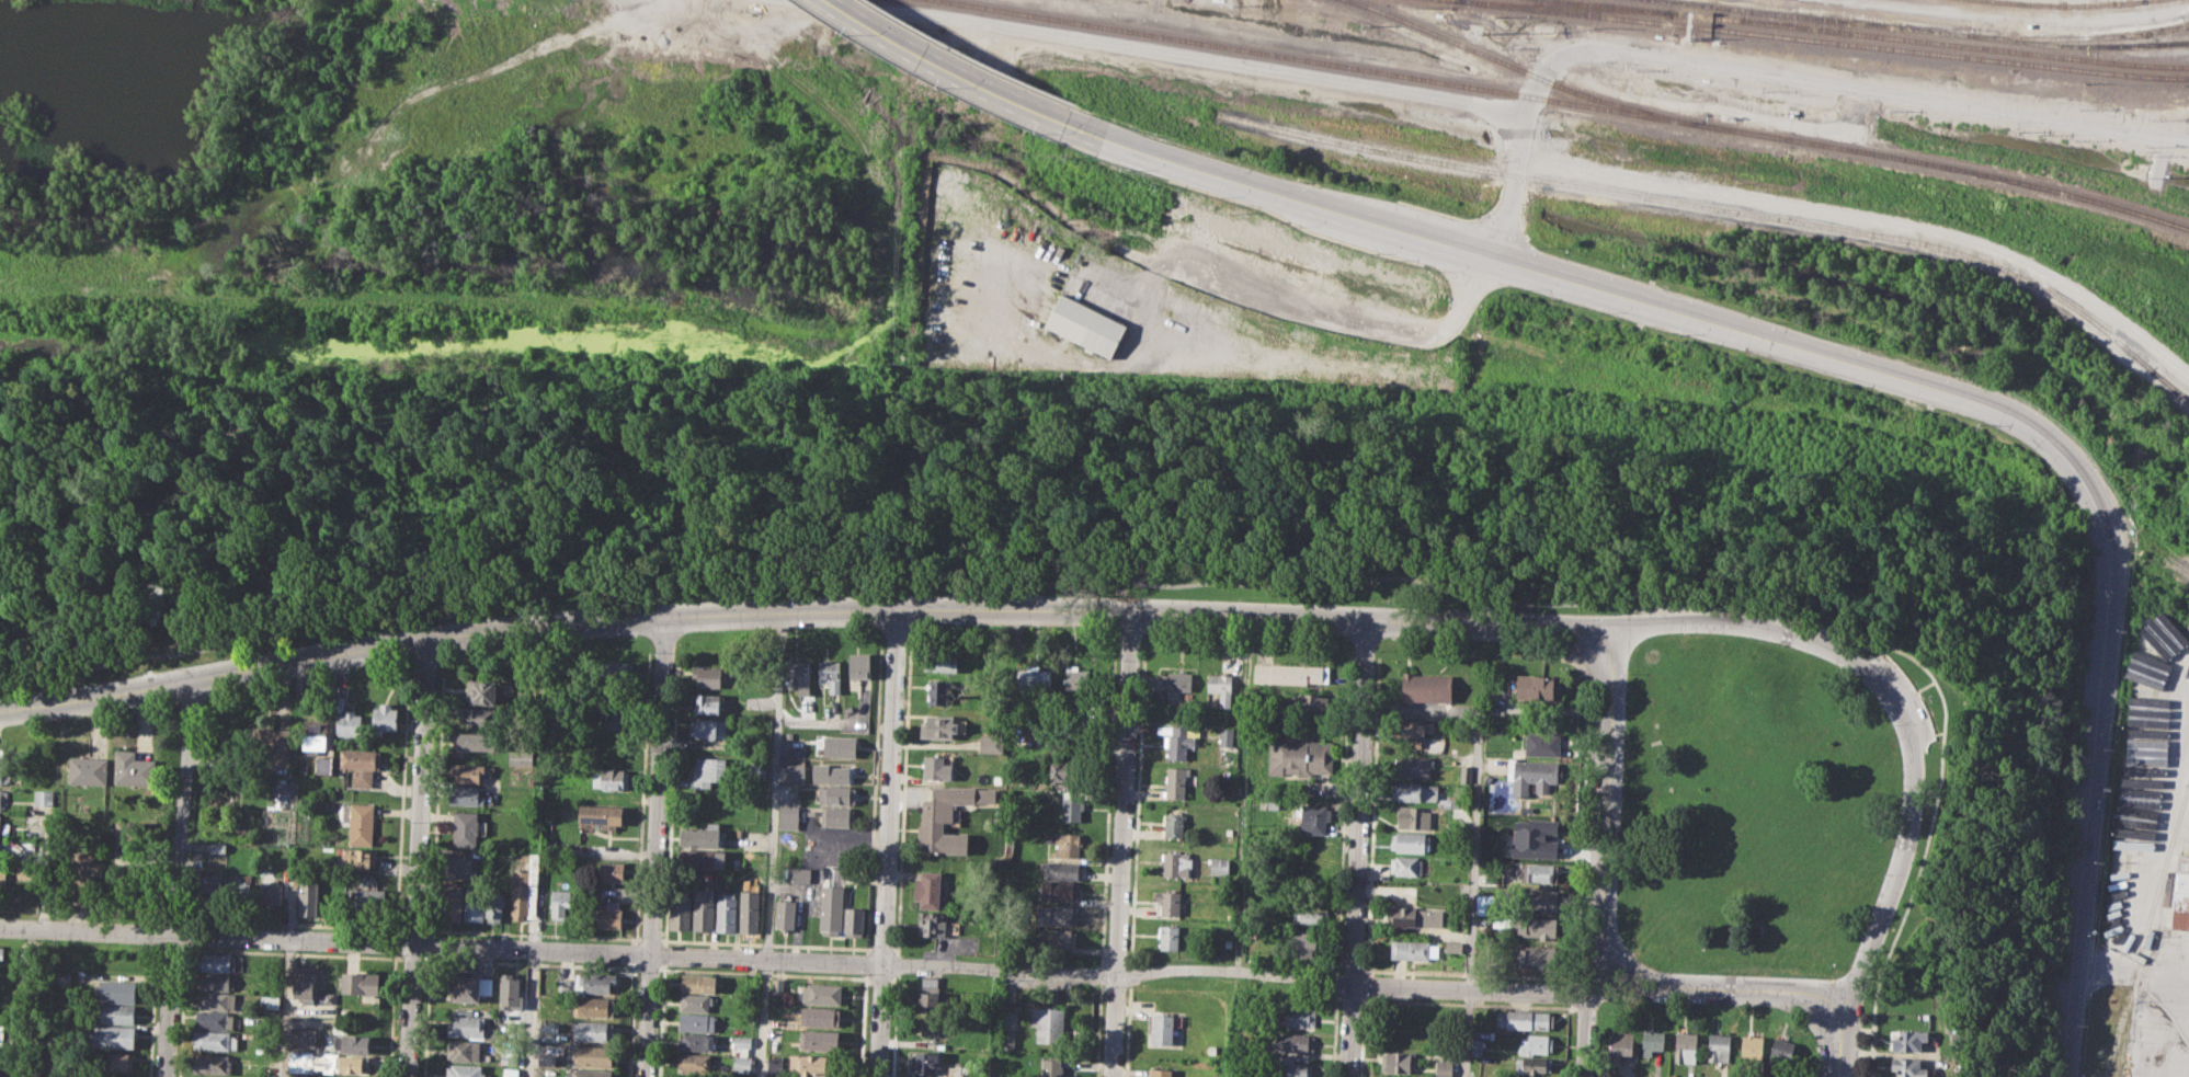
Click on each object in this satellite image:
railway: (2057, 4)
railway: (1563, 5)
railway: (1808, 16)
railway: (1823, 23)
railway: (1874, 34)
railway: (2074, 37)
railway: (1822, 39)
railway: (2173, 41)
railway: (2074, 46)
railway: (1326, 62)
road: (951, 65)
railway: (1526, 69)
railway: (1504, 101)
road: (1527, 122)
railway: (1950, 165)
road: (1225, 176)
railway: (1720, 208)
road: (1871, 221)
building: (1085, 324)
railway: (2171, 388)
road: (2026, 426)
park: (1010, 536)
railway: (2169, 557)
road: (1181, 584)
road: (798, 609)
road: (1733, 621)
building: (2168, 631)
building: (940, 662)
building: (859, 666)
building: (617, 674)
building: (831, 674)
building: (1292, 674)
building: (707, 675)
building: (798, 676)
building: (1034, 677)
building: (1076, 677)
building: (1179, 685)
road: (1926, 685)
building: (1221, 687)
building: (1425, 687)
building: (1539, 688)
building: (482, 691)
building: (937, 691)
building: (705, 702)
building: (1310, 703)
building: (480, 717)
building: (384, 718)
building: (612, 718)
building: (350, 723)
building: (942, 726)
building: (1450, 726)
building: (708, 727)
building: (1413, 729)
building: (2145, 729)
building: (1036, 732)
road: (1939, 732)
building: (315, 735)
building: (1225, 736)
building: (475, 741)
building: (273, 742)
building: (1178, 742)
building: (990, 743)
building: (1542, 743)
building: (840, 746)
building: (2145, 751)
building: (1299, 754)
building: (521, 756)
building: (361, 764)
building: (1413, 765)
building: (2, 766)
building: (324, 766)
building: (937, 767)
building: (756, 768)
building: (133, 769)
building: (4, 770)
building: (88, 770)
building: (707, 770)
building: (468, 771)
building: (795, 771)
building: (1068, 772)
building: (1466, 772)
building: (833, 774)
building: (1537, 776)
building: (609, 778)
building: (1176, 780)
road: (1241, 791)
building: (1413, 791)
building: (466, 795)
building: (839, 795)
building: (43, 797)
road: (641, 797)
road: (671, 798)
road: (902, 798)
building: (3, 799)
road: (873, 799)
road: (1606, 800)
building: (1275, 803)
road: (435, 804)
road: (400, 806)
park: (1751, 806)
building: (1072, 809)
road: (1371, 813)
building: (602, 815)
road: (1341, 815)
building: (788, 816)
building: (837, 816)
building: (1413, 817)
building: (1312, 818)
building: (944, 820)
building: (1542, 821)
building: (358, 822)
building: (1173, 825)
building: (465, 828)
building: (1, 829)
building: (702, 836)
road: (1906, 836)
building: (128, 840)
building: (1409, 841)
road: (887, 843)
road: (1121, 843)
road: (772, 844)
building: (1064, 844)
building: (217, 846)
road: (654, 846)
building: (0, 847)
building: (547, 847)
road: (1357, 847)
road: (415, 857)
building: (358, 858)
building: (698, 859)
building: (1174, 864)
building: (1216, 864)
building: (455, 866)
building: (1404, 866)
building: (85, 868)
building: (25, 869)
building: (1060, 869)
building: (612, 871)
building: (1539, 873)
building: (799, 874)
building: (3, 875)
road: (175, 878)
building: (927, 889)
building: (1059, 890)
building: (210, 891)
building: (239, 892)
building: (270, 893)
building: (518, 893)
building: (309, 894)
building: (593, 894)
building: (2181, 894)
building: (449, 897)
building: (366, 900)
building: (1539, 900)
building: (1168, 902)
building: (475, 903)
building: (560, 903)
building: (1484, 903)
road: (290, 906)
road: (1471, 906)
building: (494, 907)
building: (703, 908)
building: (830, 908)
building: (680, 909)
building: (726, 909)
building: (749, 910)
building: (785, 912)
building: (1056, 914)
building: (609, 915)
building: (1309, 915)
road: (1575, 915)
building: (1416, 916)
building: (854, 920)
building: (932, 923)
building: (1538, 927)
road: (412, 928)
road: (394, 930)
road: (531, 932)
building: (1058, 937)
building: (1168, 937)
road: (649, 938)
road: (394, 942)
road: (764, 942)
building: (1307, 942)
road: (429, 943)
road: (42, 944)
building: (1452, 946)
road: (170, 948)
road: (879, 948)
road: (893, 949)
building: (1413, 949)
road: (635, 951)
road: (289, 952)
building: (1, 953)
road: (665, 953)
building: (1536, 955)
road: (411, 958)
road: (816, 960)
building: (217, 961)
road: (865, 961)
road: (529, 962)
road: (897, 963)
road: (649, 967)
road: (1349, 969)
road: (1335, 971)
road: (762, 972)
building: (64, 977)
road: (2173, 978)
building: (215, 981)
building: (304, 981)
building: (699, 982)
building: (360, 983)
building: (586, 983)
building: (777, 984)
road: (1335, 984)
building: (470, 987)
road: (1726, 987)
building: (510, 988)
building: (114, 989)
building: (928, 993)
building: (822, 994)
building: (329, 997)
building: (218, 1000)
building: (270, 1001)
building: (696, 1001)
road: (285, 1007)
building: (597, 1007)
road: (151, 1009)
building: (116, 1012)
road: (532, 1012)
road: (390, 1015)
road: (425, 1015)
building: (821, 1016)
building: (1298, 1017)
building: (1526, 1018)
road: (631, 1019)
building: (214, 1020)
road: (662, 1020)
building: (698, 1021)
building: (1047, 1022)
road: (862, 1024)
road: (893, 1024)
building: (467, 1026)
building: (549, 1026)
building: (1160, 1027)
building: (927, 1028)
building: (595, 1030)
building: (2, 1032)
road: (1585, 1034)
building: (111, 1035)
road: (1333, 1035)
building: (306, 1036)
building: (821, 1039)
building: (1008, 1039)
building: (215, 1040)
building: (1909, 1040)
building: (743, 1041)
building: (1651, 1041)
building: (697, 1042)
building: (1296, 1042)
road: (1839, 1042)
building: (352, 1043)
building: (773, 1043)
building: (1537, 1043)
building: (1620, 1044)
building: (1477, 1045)
building: (1686, 1046)
building: (1719, 1047)
building: (1753, 1047)
building: (464, 1050)
building: (1780, 1052)
building: (593, 1055)
building: (306, 1057)
building: (506, 1058)
building: (548, 1058)
building: (1399, 1061)
building: (115, 1062)
building: (924, 1062)
building: (213, 1063)
building: (350, 1063)
building: (695, 1063)
building: (742, 1064)
building: (813, 1065)
building: (1532, 1065)
building: (776, 1066)
building: (0, 1067)
building: (1051, 1067)
building: (1292, 1067)
building: (1445, 1067)
building: (1908, 1067)
building: (465, 1070)
building: (511, 1072)
building: (1153, 1072)
building: (591, 1073)
building: (300, 1075)

